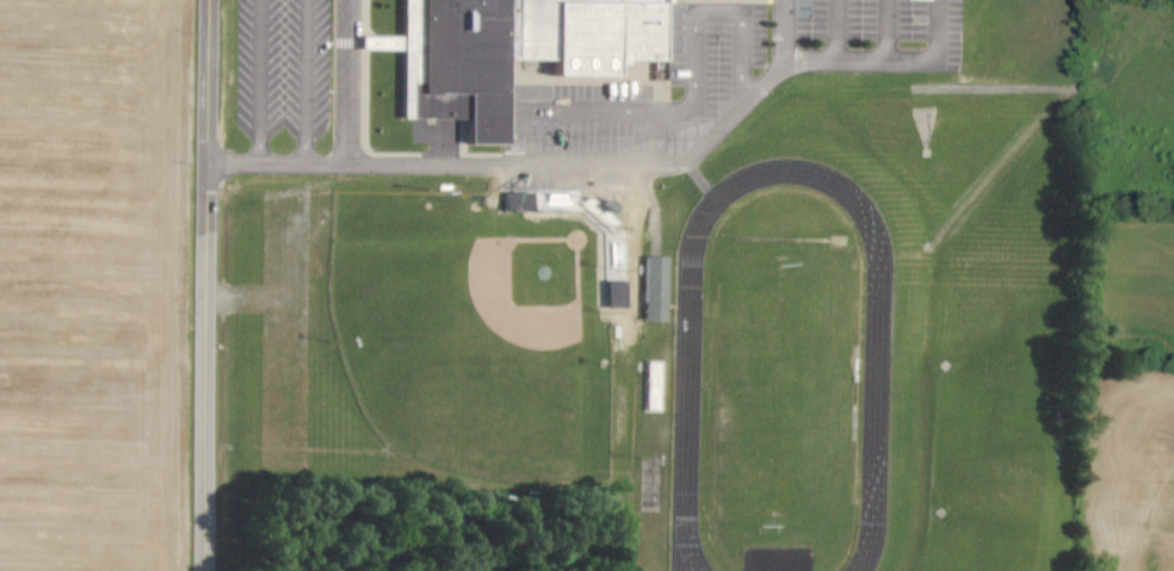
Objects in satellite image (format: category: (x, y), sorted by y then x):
road: (786, 29)
road: (836, 29)
road: (888, 29)
building: (511, 50)
road: (262, 81)
road: (307, 81)
road: (347, 82)
road: (696, 110)
road: (650, 139)
road: (625, 166)
track: (786, 240)
road: (206, 285)
building: (656, 287)
stadium: (483, 333)
park: (1013, 348)
park: (468, 354)
park: (783, 385)
building: (656, 387)
track: (688, 392)
building: (650, 483)

